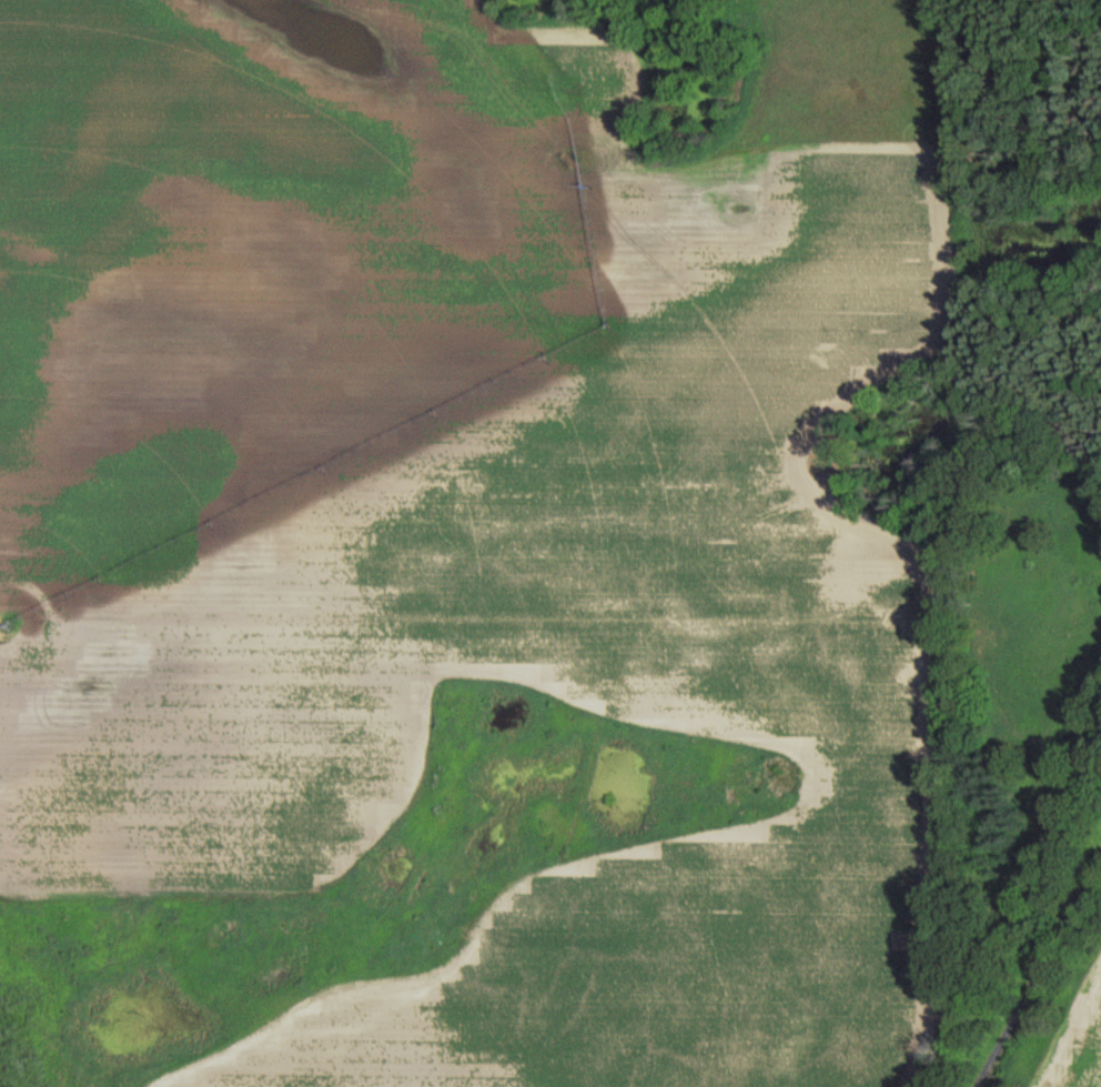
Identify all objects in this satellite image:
road: (1032, 957)

